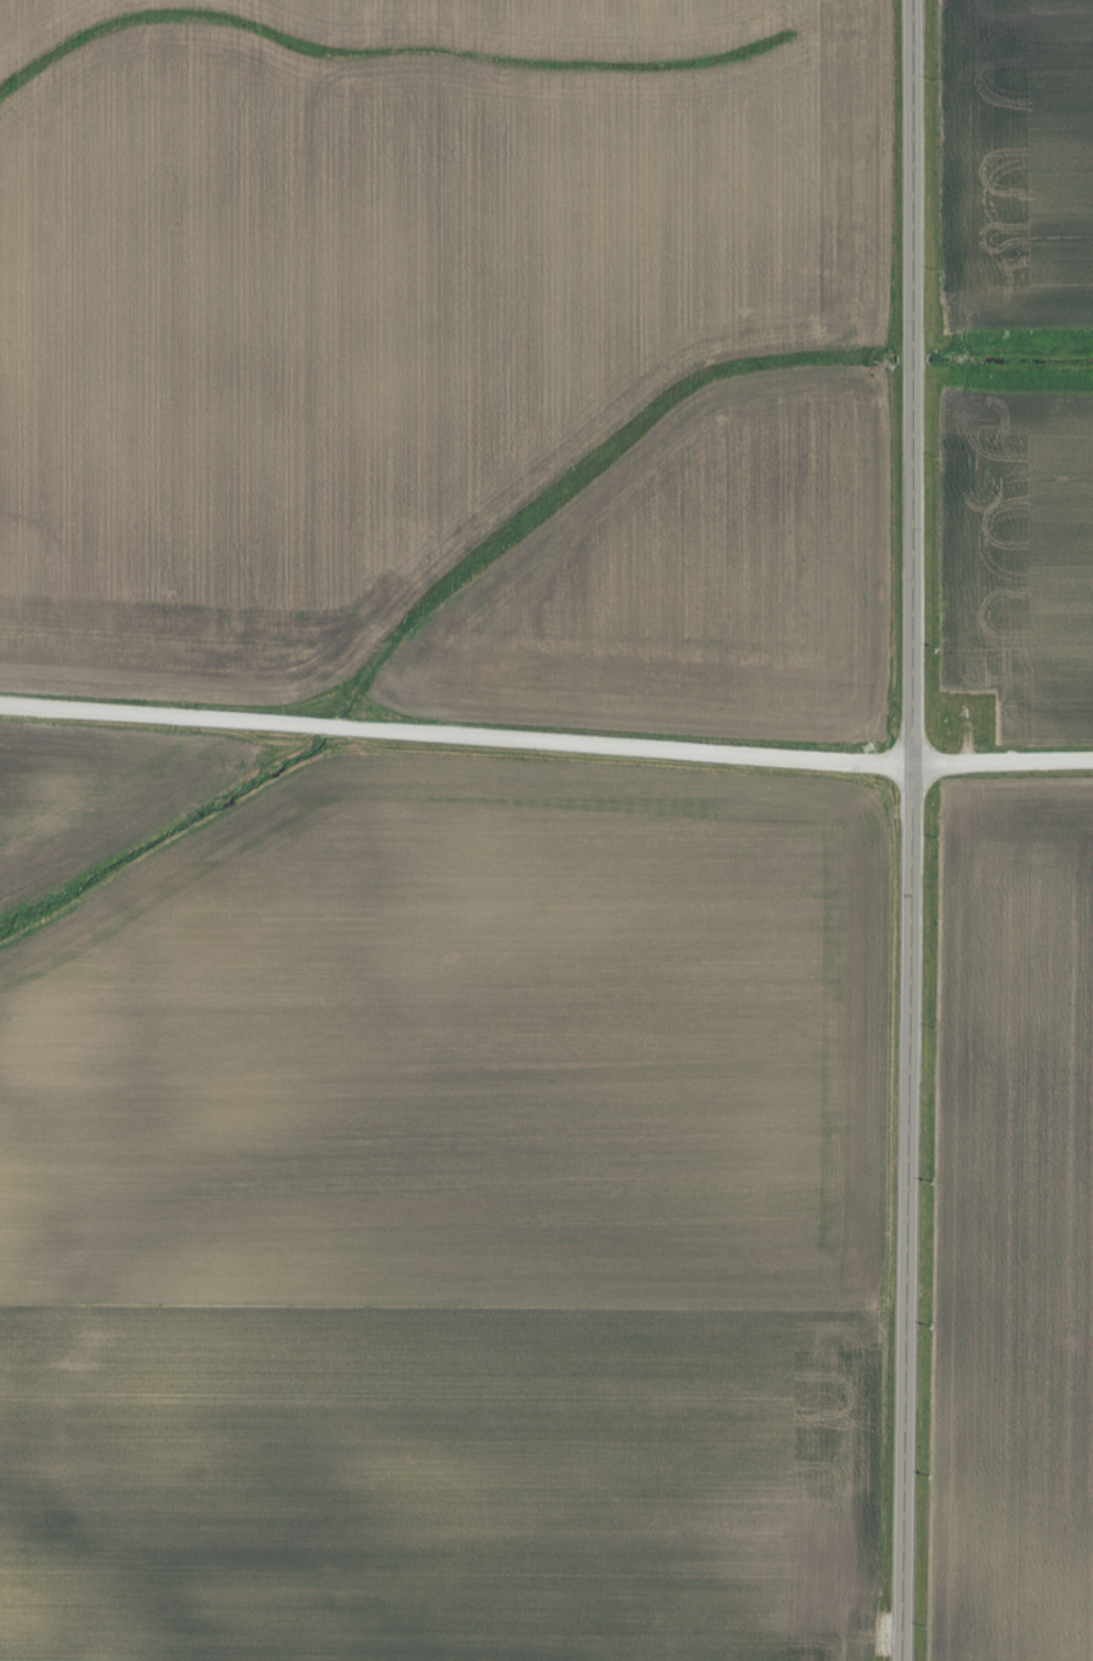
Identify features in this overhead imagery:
road: (545, 743)
road: (913, 830)

